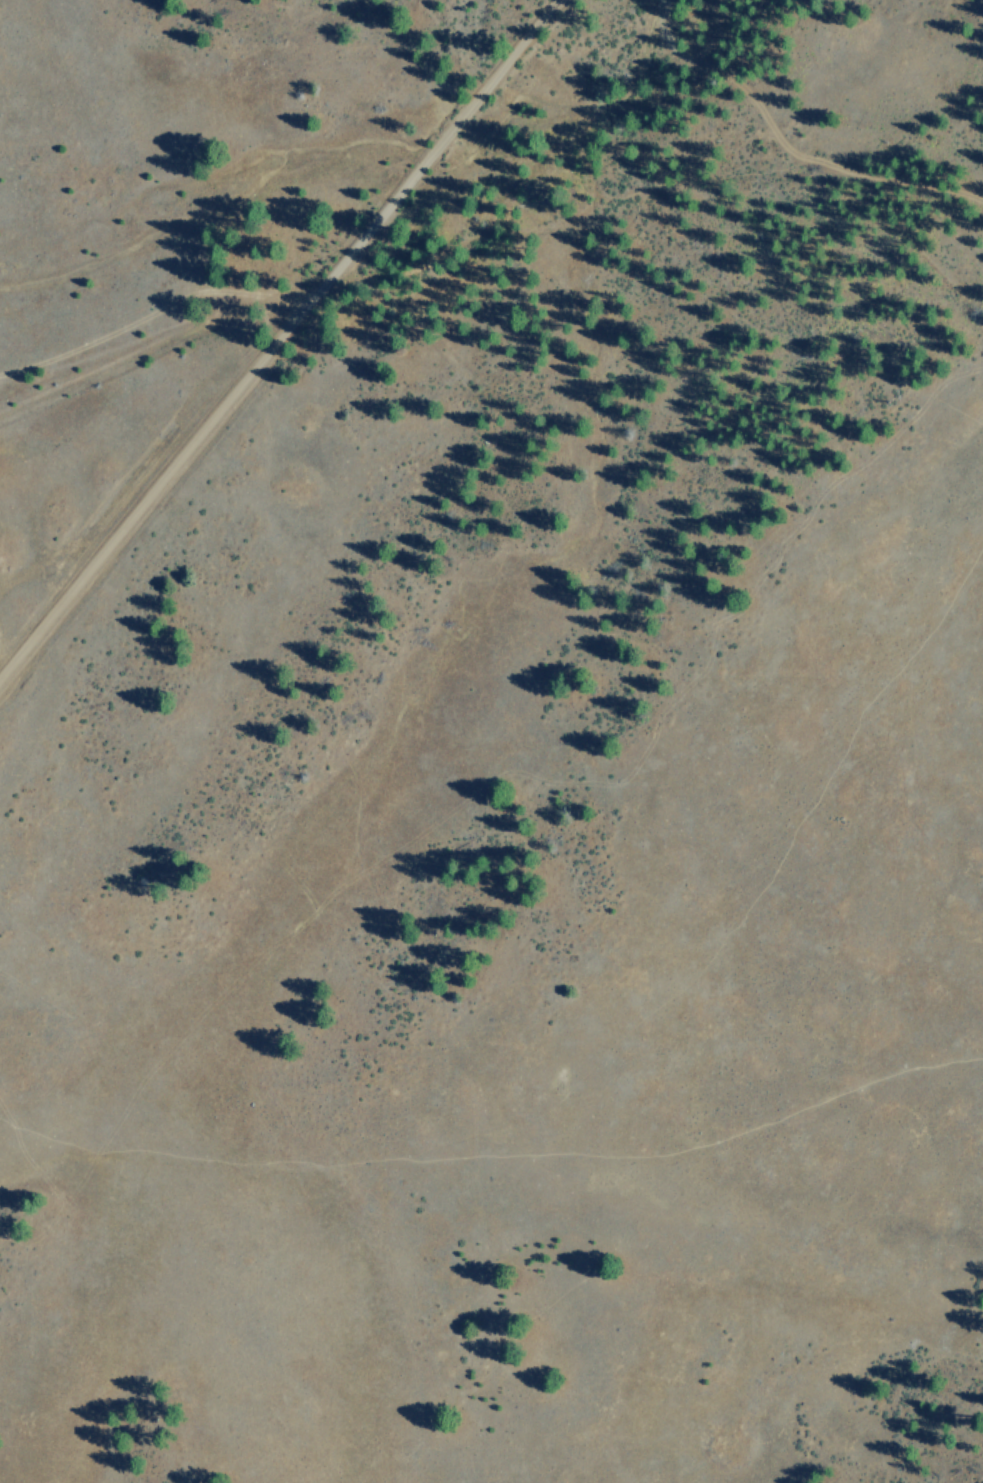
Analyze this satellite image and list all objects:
road: (404, 137)
road: (500, 267)
road: (145, 444)

